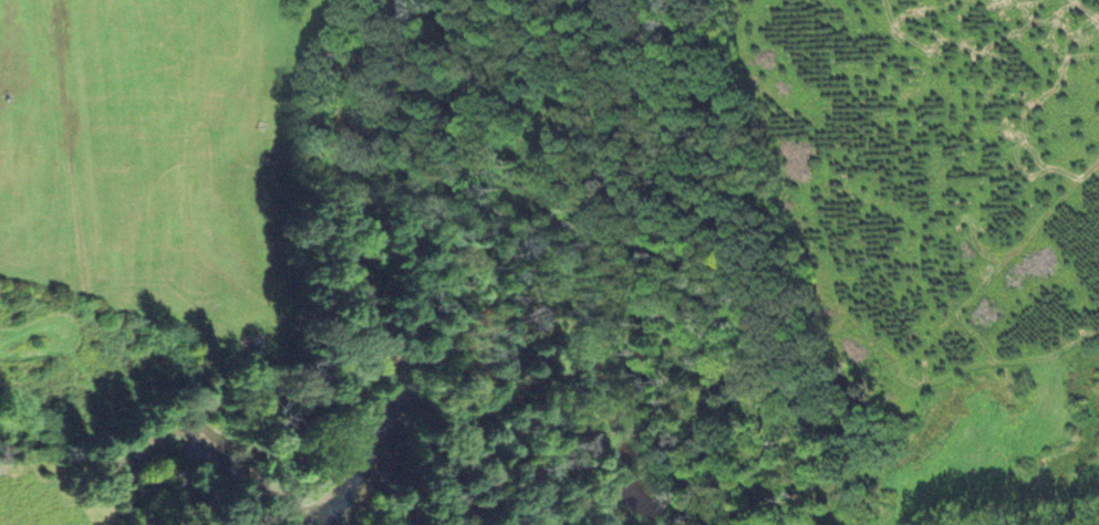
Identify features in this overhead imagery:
river: (375, 398)

